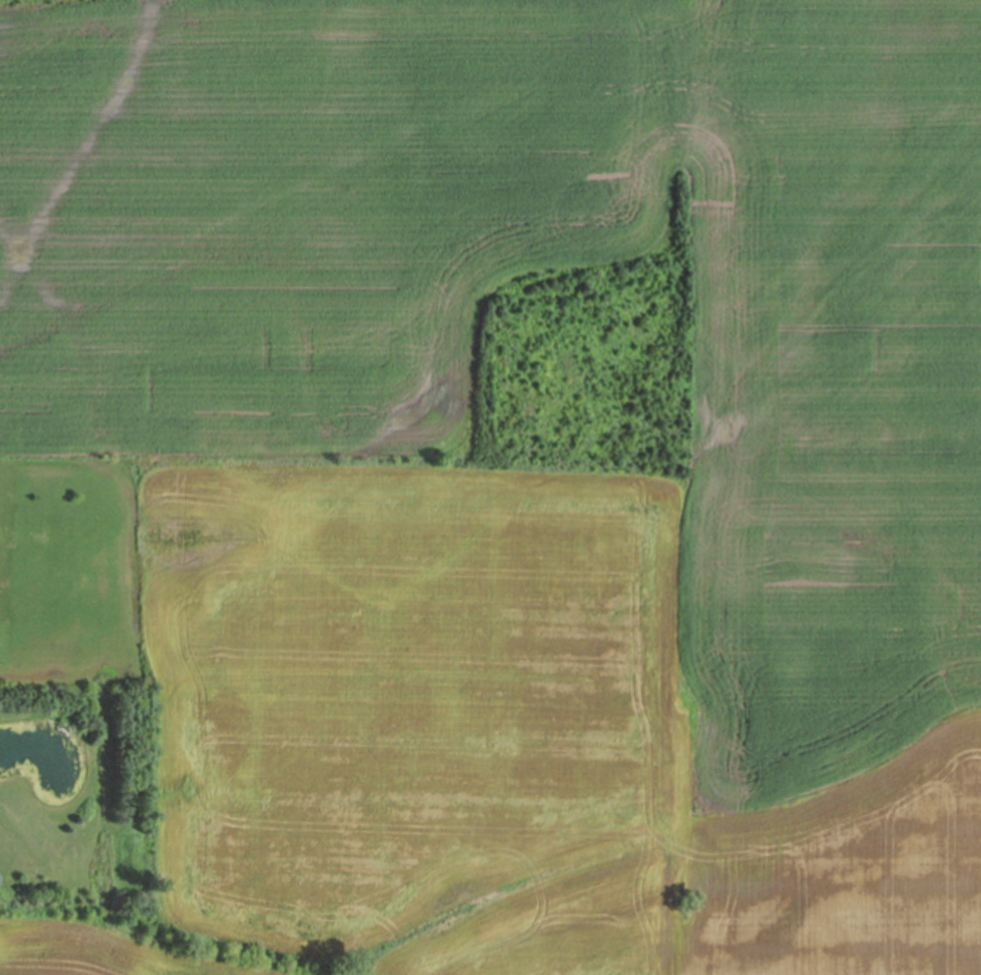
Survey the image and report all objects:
crop: (520, 473)

